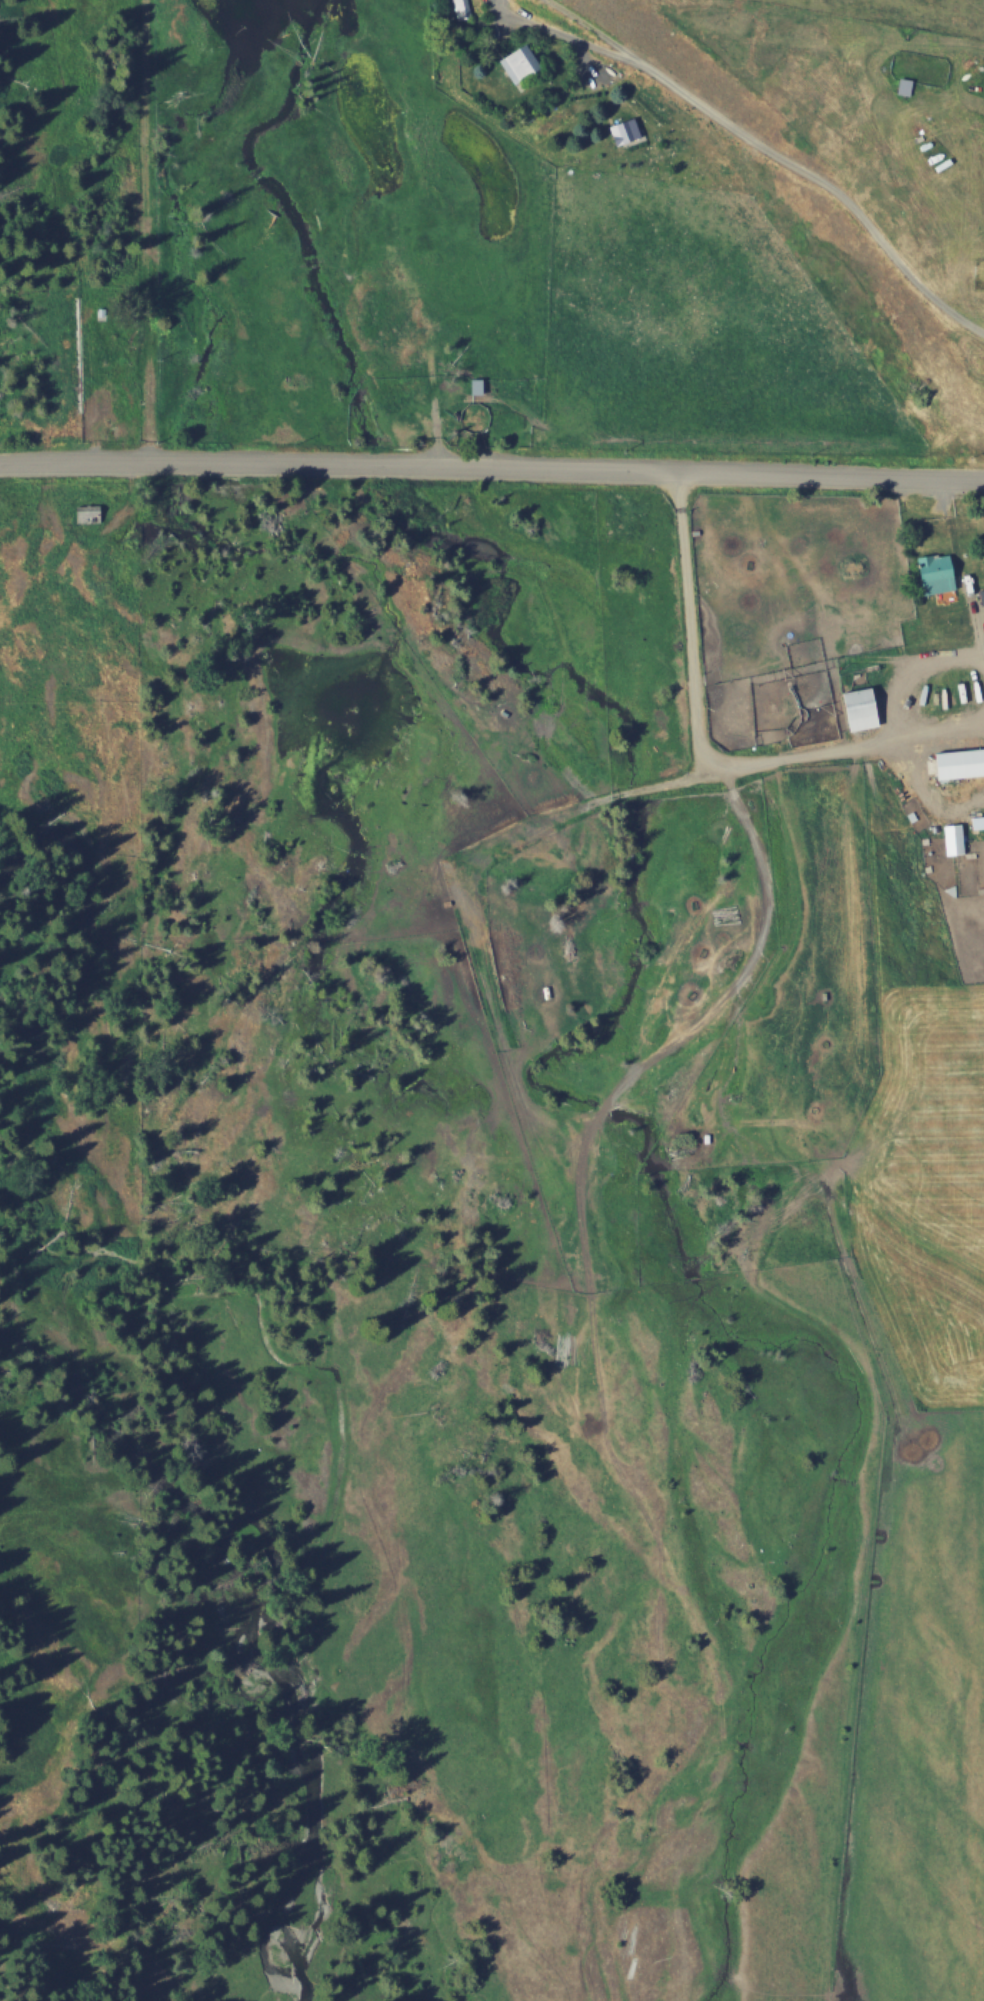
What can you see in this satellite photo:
building: (458, 8)
building: (516, 61)
road: (776, 149)
building: (475, 385)
road: (492, 464)
building: (91, 513)
building: (934, 572)
building: (975, 612)
crop: (786, 665)
building: (856, 708)
river: (146, 1010)

